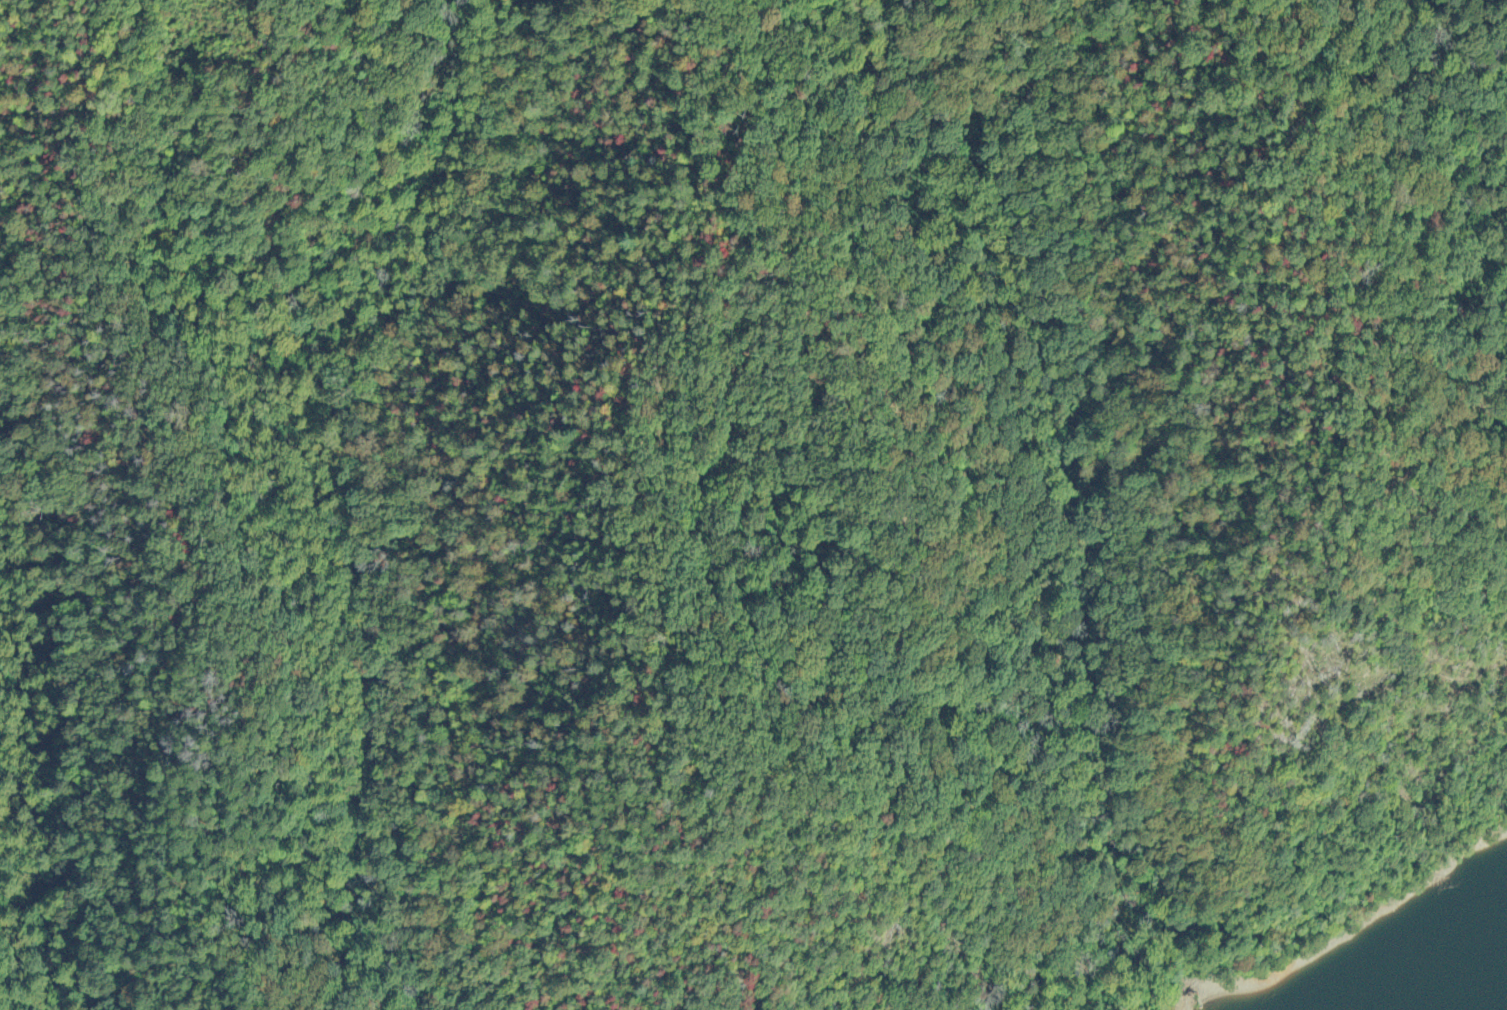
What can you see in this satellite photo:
road: (1278, 135)

